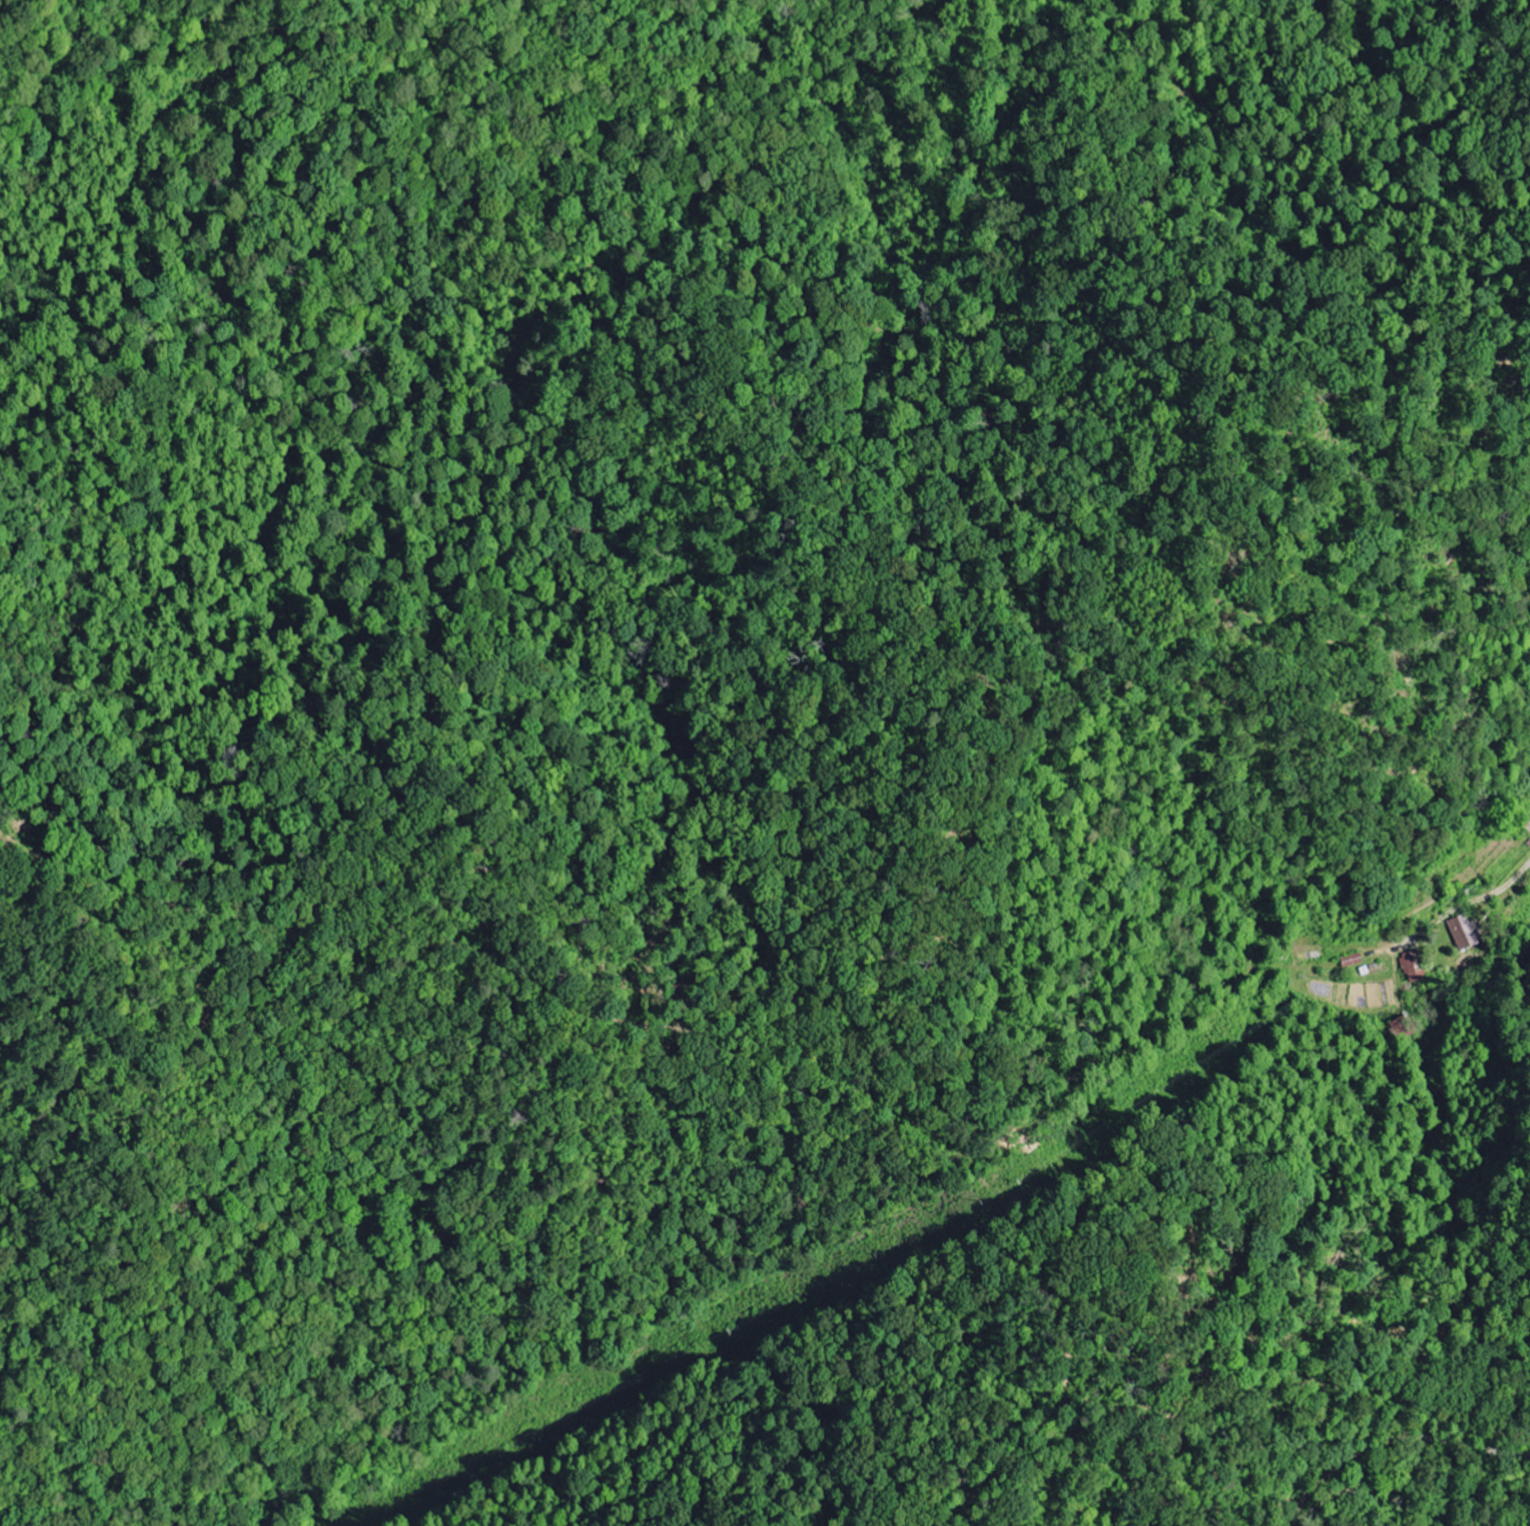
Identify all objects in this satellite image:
building: (1462, 931)
building: (1414, 968)
road: (1435, 1478)

